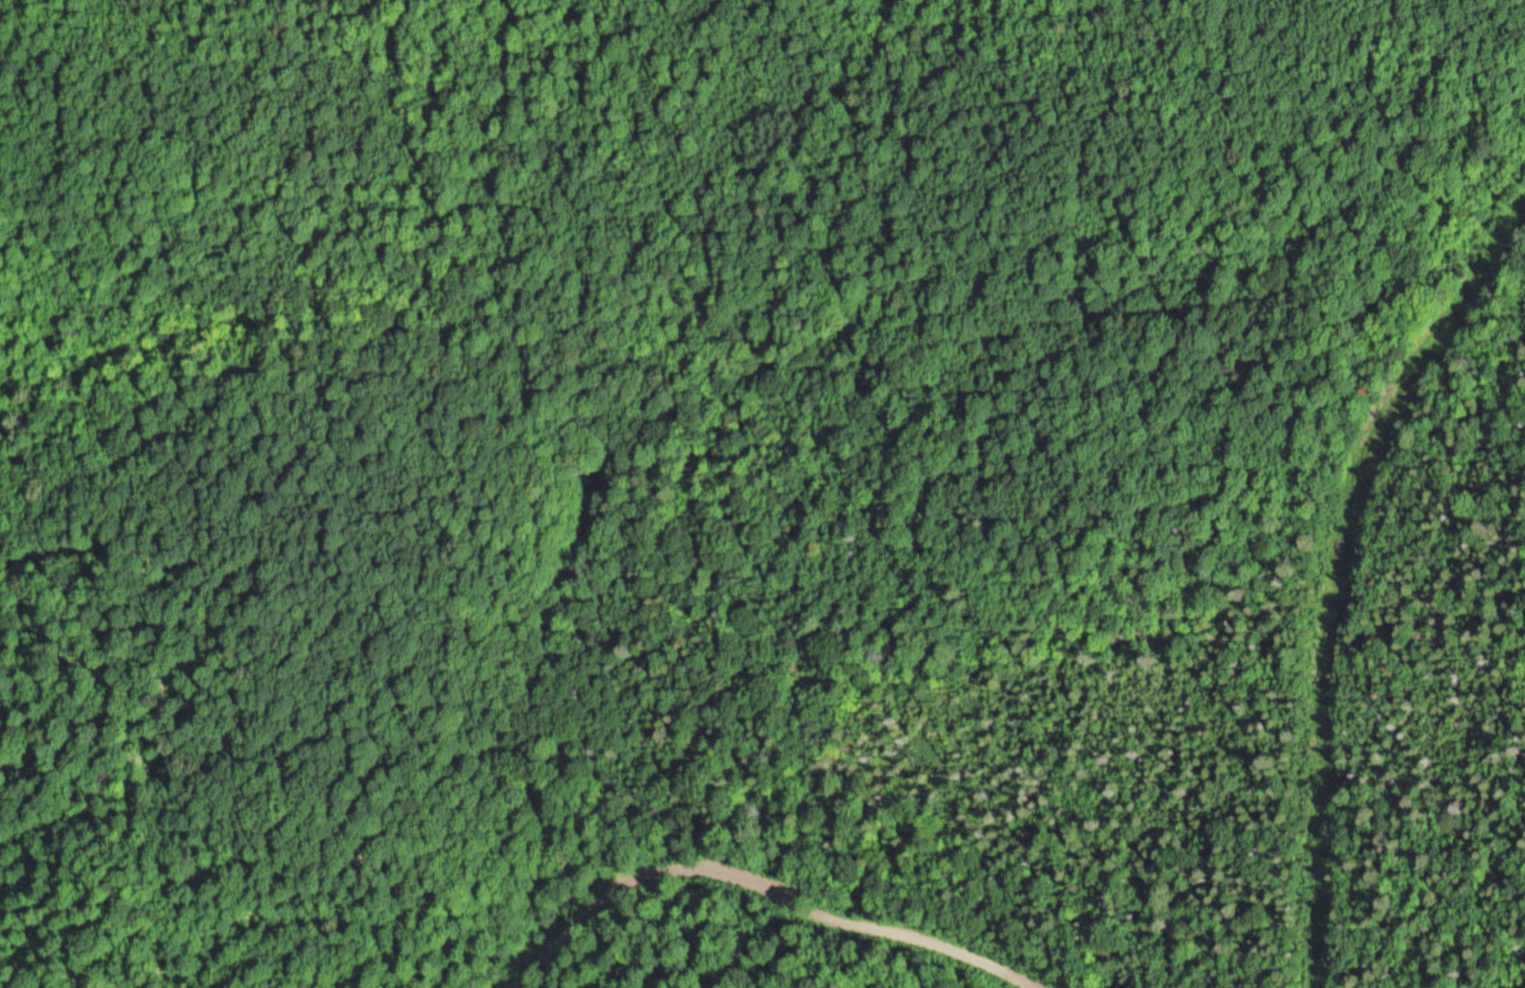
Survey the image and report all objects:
road: (739, 892)

